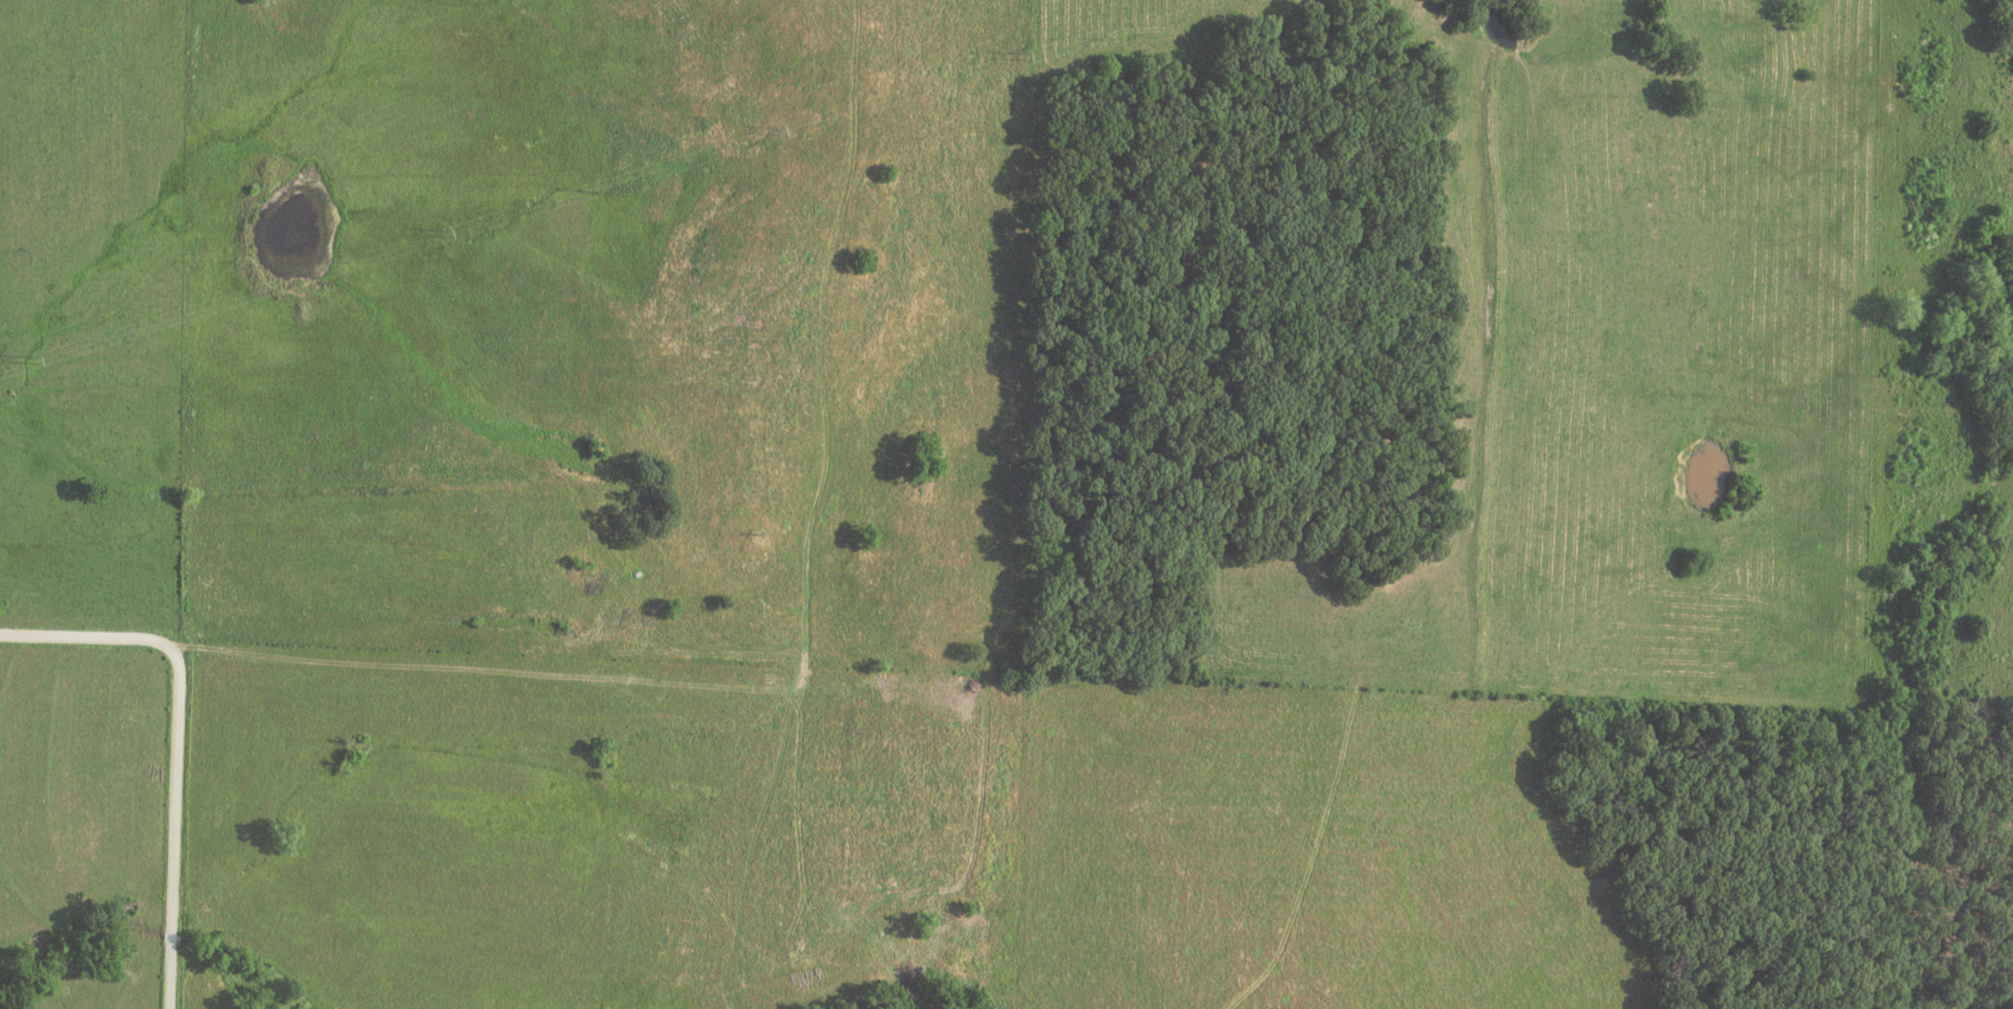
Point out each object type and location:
road: (814, 509)
road: (178, 741)

